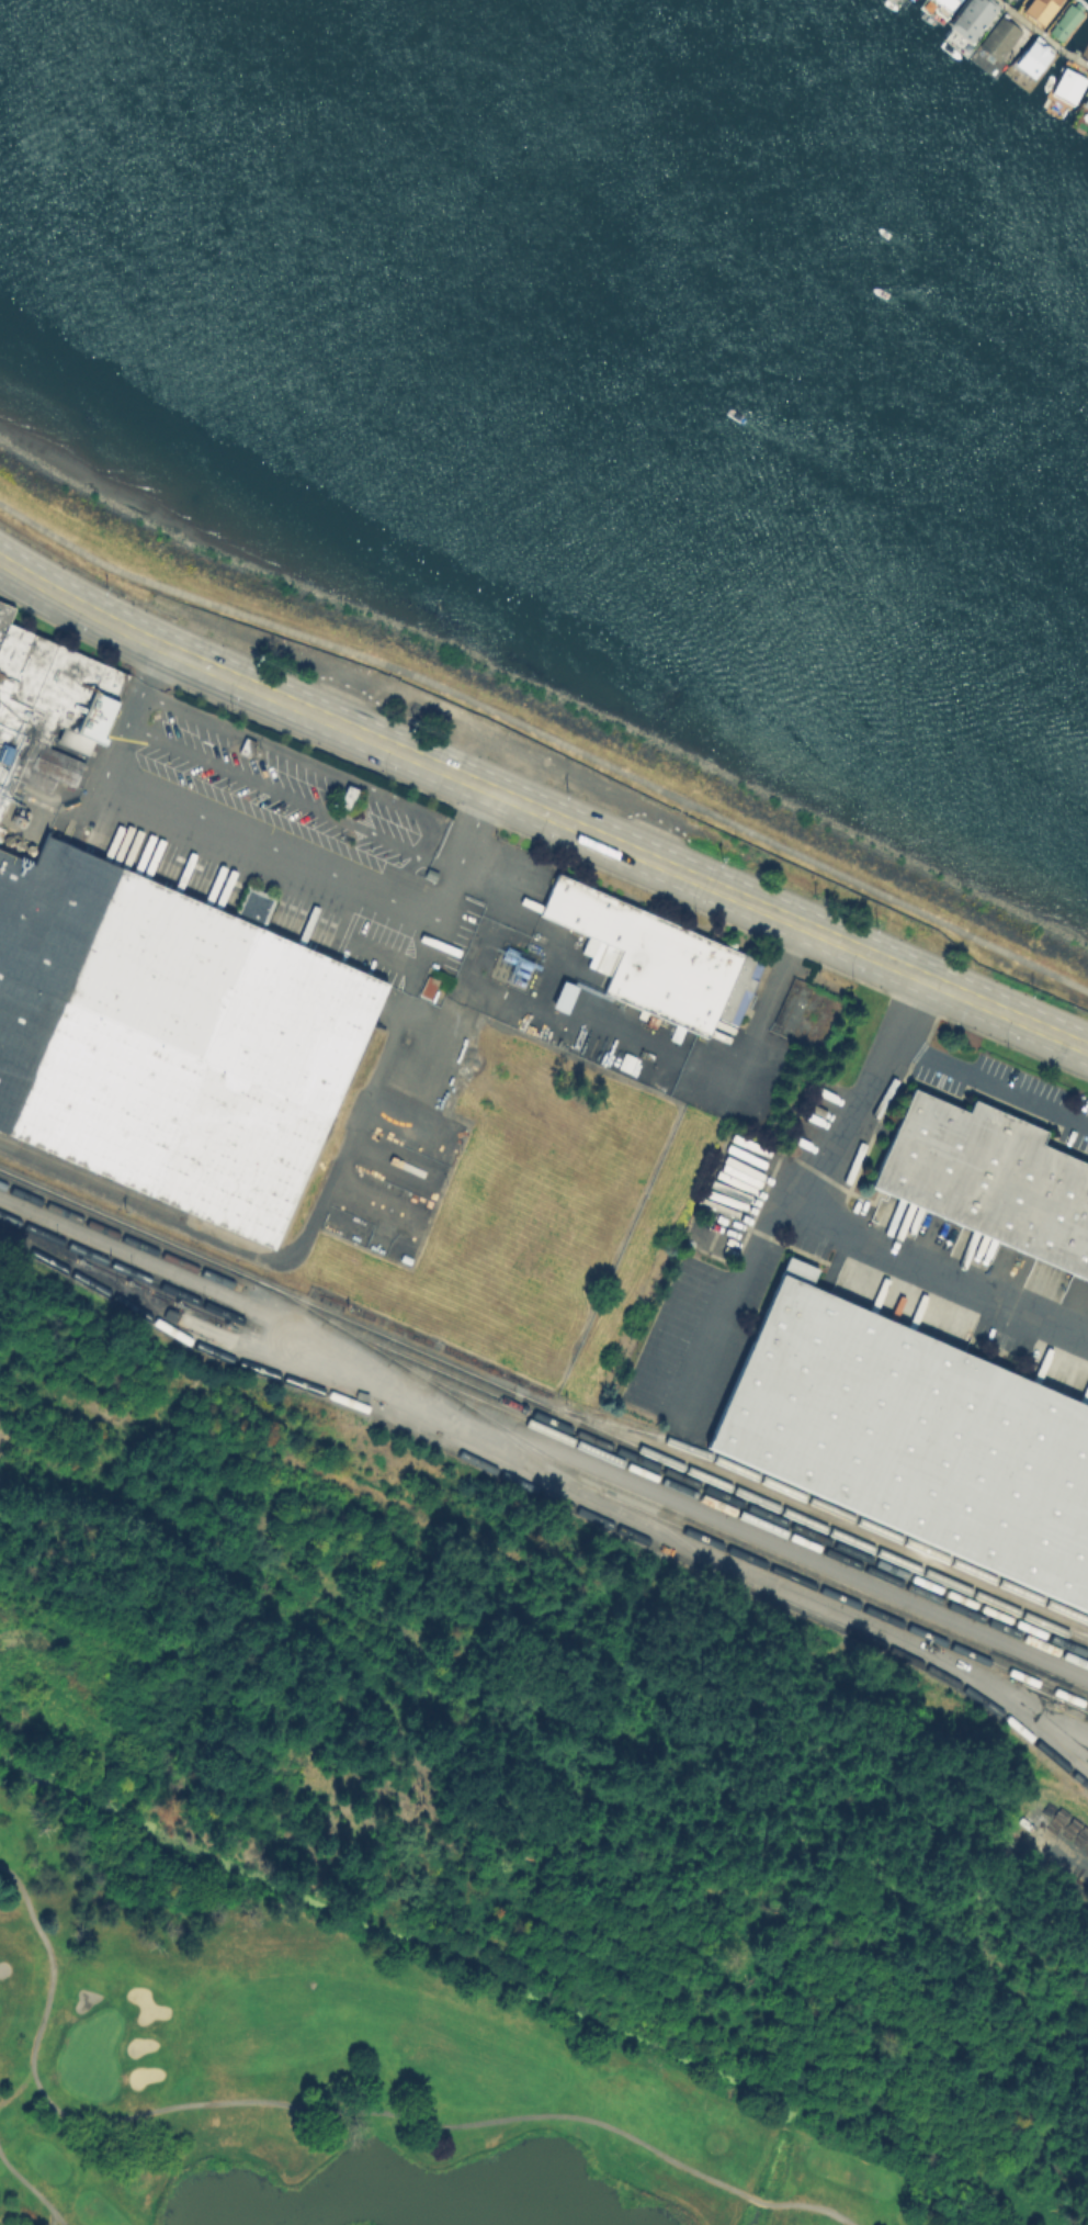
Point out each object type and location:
building: (1038, 9)
building: (970, 18)
building: (1064, 21)
pier: (1041, 34)
building: (1001, 38)
building: (1032, 56)
building: (1066, 85)
building: (1086, 100)
river: (666, 237)
building: (49, 703)
road: (547, 735)
road: (540, 811)
road: (205, 816)
road: (460, 852)
building: (654, 956)
building: (168, 1037)
road: (737, 1076)
road: (990, 1082)
railway: (89, 1177)
building: (988, 1177)
road: (812, 1205)
railway: (117, 1234)
road: (308, 1235)
railway: (128, 1269)
road: (949, 1272)
railway: (543, 1405)
building: (913, 1432)
railway: (705, 1486)
railway: (552, 1495)
railway: (807, 1497)
railway: (739, 1512)
railway: (659, 1517)
railway: (673, 1537)
railway: (773, 1553)
railway: (1056, 1623)
park: (359, 2069)
road: (333, 2106)
road: (34, 2189)

